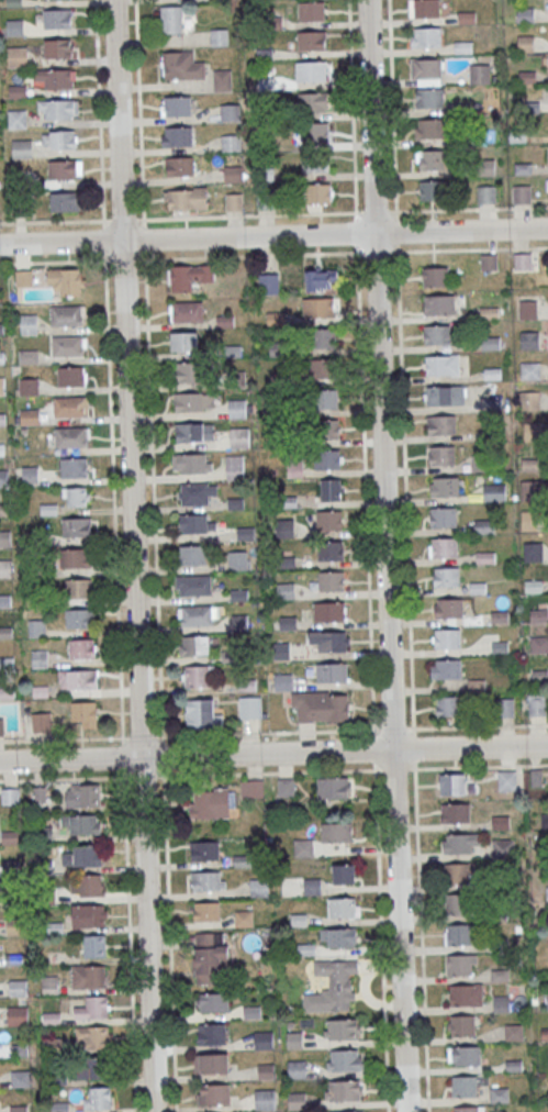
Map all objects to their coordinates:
building: (424, 9)
building: (311, 11)
building: (57, 18)
building: (171, 19)
building: (219, 36)
building: (425, 36)
building: (311, 41)
building: (525, 44)
building: (56, 47)
building: (18, 56)
building: (181, 66)
building: (311, 70)
building: (425, 71)
building: (481, 73)
building: (53, 78)
building: (222, 79)
building: (428, 98)
building: (312, 101)
building: (176, 105)
building: (57, 109)
building: (230, 112)
building: (18, 119)
building: (428, 129)
building: (315, 132)
building: (176, 136)
building: (59, 140)
building: (231, 143)
building: (22, 148)
building: (429, 159)
building: (315, 163)
building: (180, 166)
building: (61, 169)
building: (433, 190)
building: (320, 192)
building: (521, 193)
building: (485, 194)
building: (186, 198)
building: (64, 201)
building: (234, 201)
road: (273, 214)
road: (273, 235)
road: (472, 249)
road: (250, 255)
building: (522, 260)
road: (53, 262)
building: (489, 262)
building: (189, 276)
building: (435, 276)
building: (24, 278)
building: (320, 280)
building: (64, 281)
building: (268, 283)
building: (440, 303)
building: (317, 308)
building: (528, 309)
building: (187, 311)
building: (489, 313)
building: (66, 314)
building: (276, 319)
building: (225, 321)
building: (29, 324)
building: (1, 329)
building: (438, 334)
building: (323, 337)
building: (183, 341)
building: (530, 341)
building: (67, 345)
building: (278, 348)
building: (1, 356)
building: (29, 357)
building: (439, 364)
building: (318, 369)
building: (530, 370)
building: (191, 372)
building: (70, 376)
building: (279, 378)
building: (2, 386)
building: (29, 386)
building: (439, 397)
building: (326, 398)
building: (529, 400)
building: (193, 402)
building: (70, 407)
building: (237, 409)
building: (293, 410)
building: (30, 416)
building: (2, 419)
building: (443, 424)
building: (326, 429)
building: (190, 432)
building: (533, 432)
building: (71, 436)
building: (239, 437)
building: (294, 441)
building: (2, 449)
building: (443, 455)
building: (327, 458)
building: (192, 463)
building: (234, 466)
building: (74, 467)
building: (294, 468)
building: (30, 474)
road: (153, 477)
building: (3, 478)
building: (446, 486)
building: (331, 489)
road: (405, 490)
building: (532, 490)
building: (494, 491)
building: (195, 493)
building: (75, 497)
road: (114, 499)
building: (289, 502)
building: (235, 503)
building: (3, 509)
building: (49, 510)
building: (444, 518)
building: (328, 520)
building: (529, 520)
building: (197, 523)
building: (76, 526)
building: (483, 526)
building: (286, 531)
building: (245, 533)
building: (4, 538)
building: (40, 540)
building: (445, 547)
building: (331, 551)
building: (533, 552)
building: (192, 554)
road: (135, 555)
road: (388, 555)
building: (77, 557)
building: (485, 557)
building: (236, 560)
building: (287, 563)
building: (5, 568)
building: (35, 570)
building: (447, 576)
building: (331, 580)
building: (193, 585)
building: (534, 586)
building: (78, 587)
building: (478, 587)
building: (286, 591)
building: (239, 596)
building: (5, 600)
building: (36, 601)
building: (448, 608)
building: (329, 611)
building: (195, 615)
building: (500, 615)
building: (540, 615)
building: (79, 618)
building: (288, 623)
building: (241, 624)
building: (37, 629)
building: (5, 632)
building: (446, 638)
building: (329, 641)
building: (539, 643)
building: (194, 645)
building: (500, 647)
building: (81, 648)
building: (281, 650)
building: (230, 656)
building: (40, 658)
road: (370, 661)
building: (7, 663)
building: (446, 668)
building: (332, 672)
building: (198, 676)
building: (82, 678)
building: (283, 681)
building: (245, 685)
building: (41, 691)
building: (7, 692)
building: (537, 704)
building: (449, 705)
building: (251, 707)
building: (320, 707)
building: (505, 708)
building: (83, 711)
building: (202, 714)
building: (41, 722)
building: (1, 725)
road: (273, 732)
road: (273, 754)
building: (507, 780)
building: (452, 782)
building: (286, 787)
building: (334, 787)
building: (251, 788)
building: (82, 794)
building: (9, 796)
building: (212, 803)
building: (456, 812)
building: (81, 824)
building: (337, 832)
building: (460, 843)
building: (503, 848)
building: (204, 850)
building: (83, 856)
building: (345, 872)
building: (457, 872)
building: (206, 880)
building: (87, 886)
building: (312, 886)
building: (259, 888)
building: (547, 894)
building: (458, 903)
building: (342, 907)
building: (205, 911)
building: (89, 915)
building: (243, 919)
road: (421, 920)
building: (459, 934)
building: (343, 937)
building: (94, 945)
building: (211, 958)
building: (460, 964)
building: (88, 976)
building: (332, 987)
building: (18, 988)
building: (462, 994)
building: (212, 1002)
building: (501, 1004)
building: (92, 1009)
building: (16, 1015)
building: (463, 1025)
building: (342, 1028)
building: (212, 1033)
building: (545, 1034)
building: (93, 1037)
building: (262, 1039)
building: (51, 1044)
building: (467, 1055)
building: (343, 1060)
building: (213, 1063)
building: (91, 1068)
building: (297, 1069)
building: (20, 1078)
building: (465, 1086)
building: (342, 1090)
building: (213, 1093)
building: (499, 1094)
building: (97, 1098)
building: (265, 1099)
building: (467, 1109)

